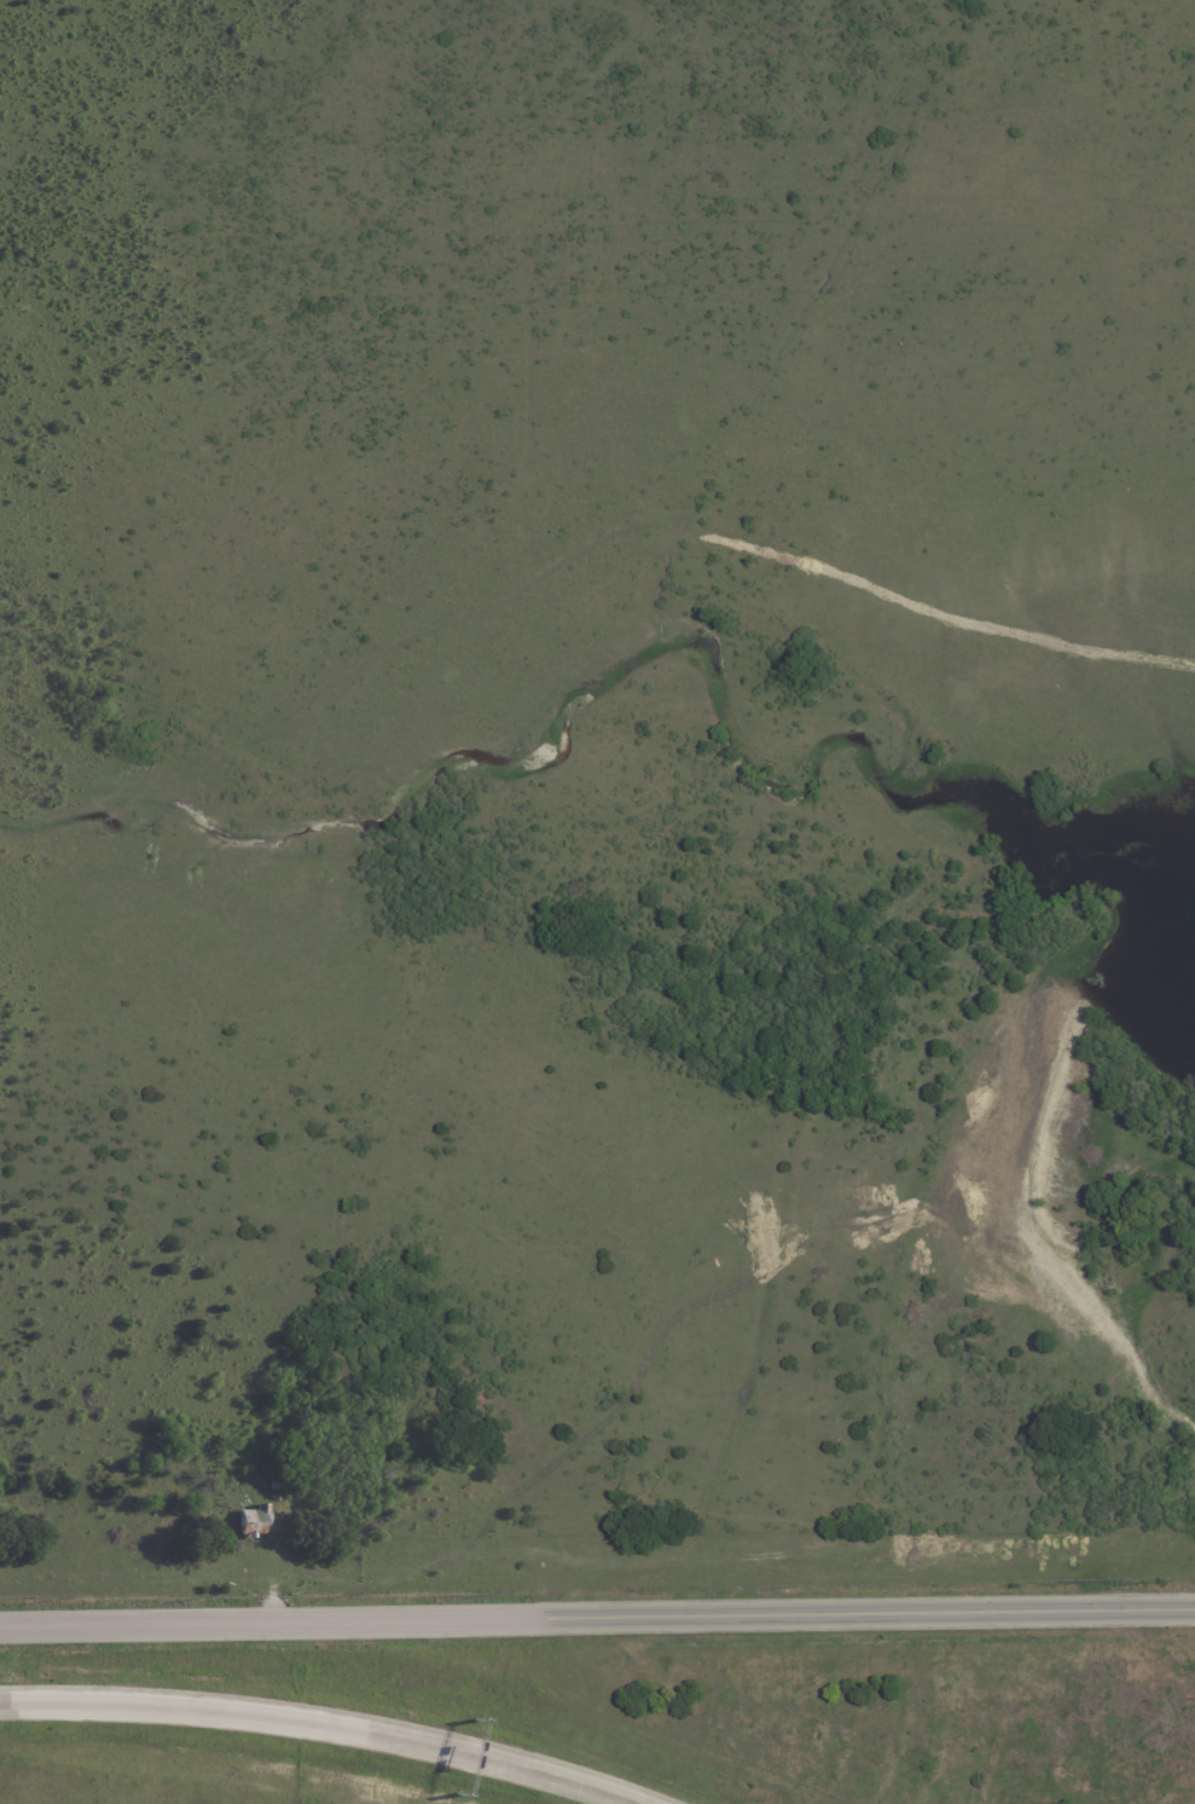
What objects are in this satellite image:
building: (280, 1478)
building: (254, 1520)
road: (597, 1618)
road: (313, 1724)

